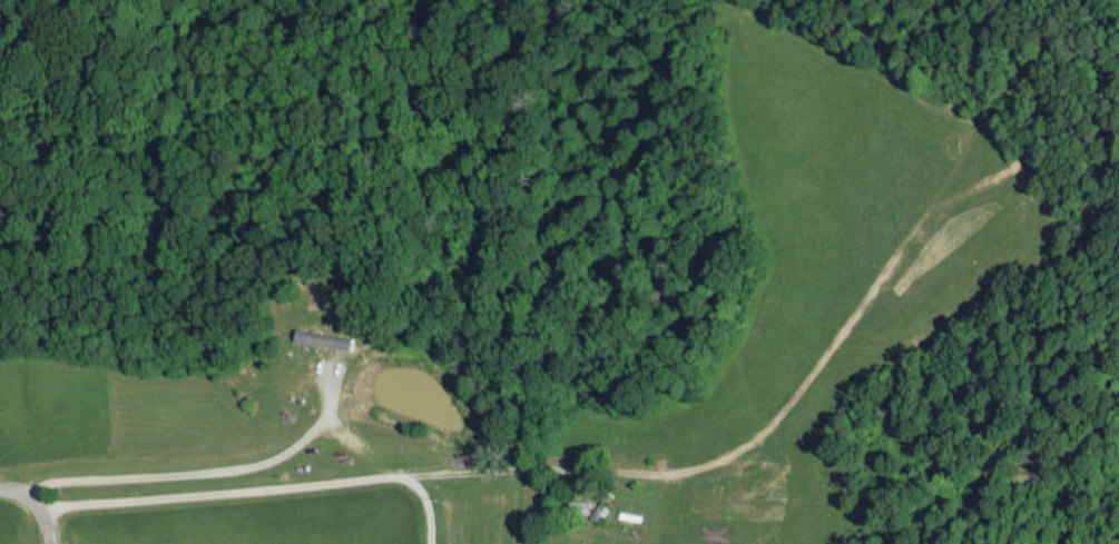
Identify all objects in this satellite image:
building: (320, 337)
road: (36, 504)

